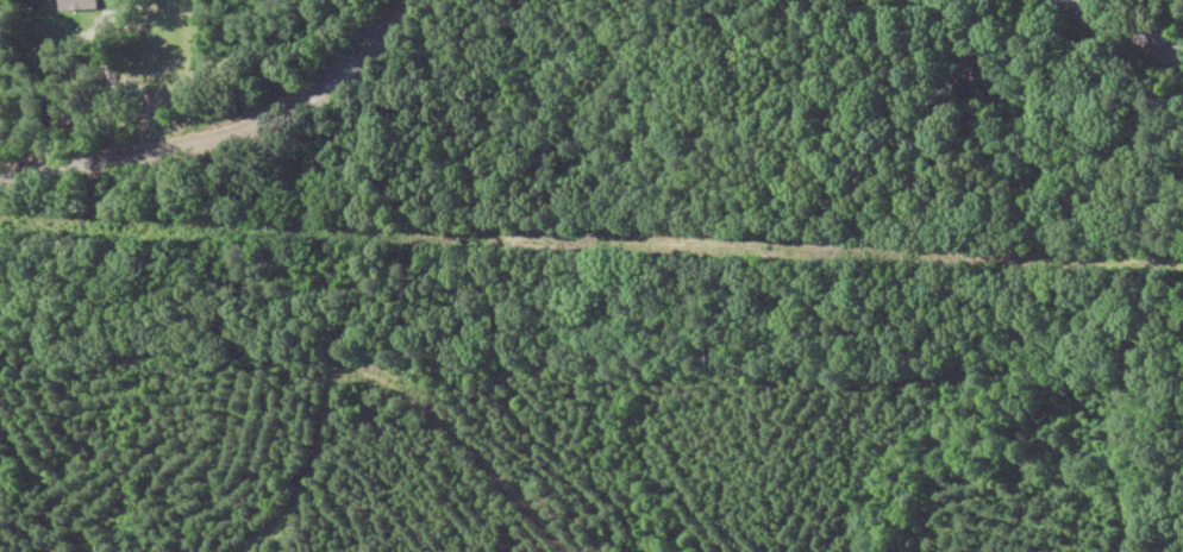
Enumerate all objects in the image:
road: (1131, 23)
road: (218, 114)

